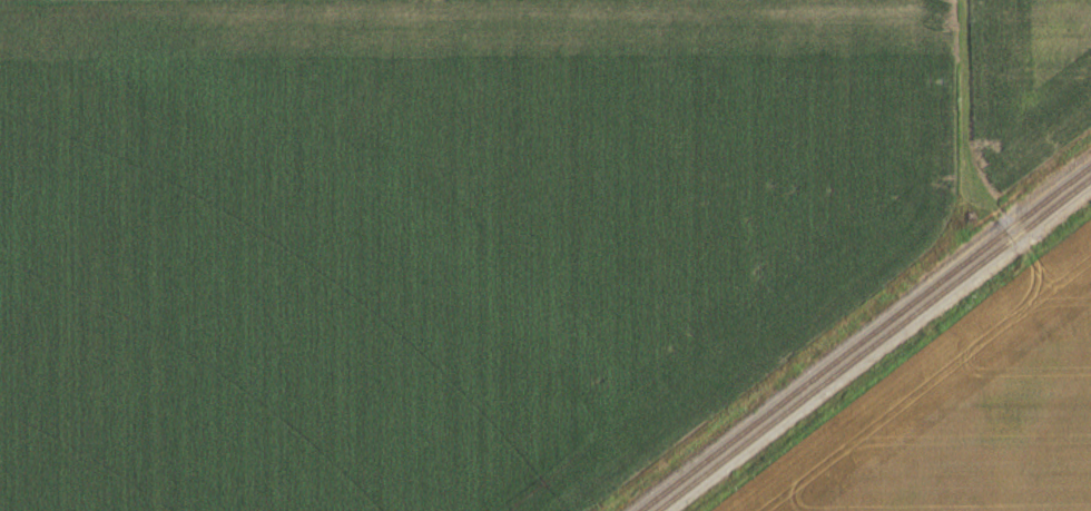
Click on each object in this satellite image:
railway: (866, 340)
railway: (875, 345)

